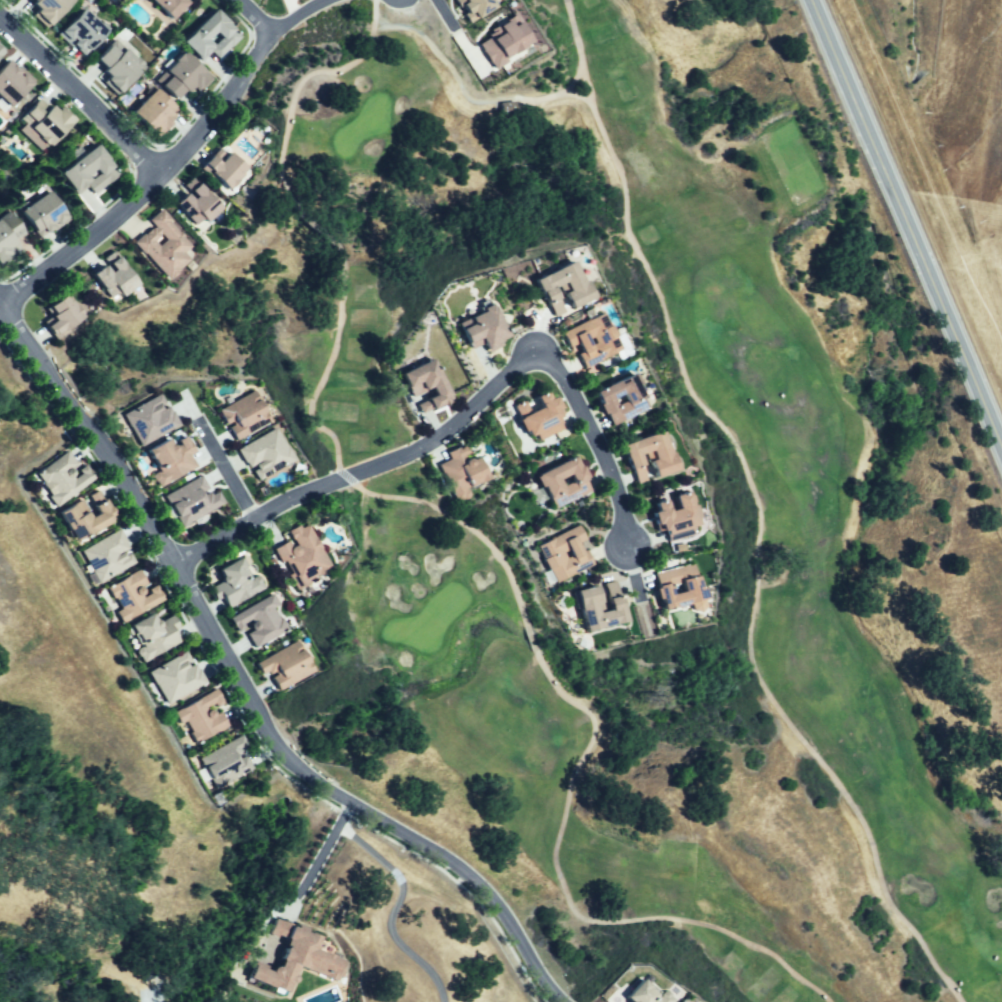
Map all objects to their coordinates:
park: (284, 7)
building: (46, 9)
building: (162, 9)
road: (377, 11)
building: (482, 12)
road: (443, 13)
road: (254, 16)
road: (305, 16)
building: (77, 32)
building: (226, 35)
road: (581, 42)
building: (509, 48)
building: (0, 50)
building: (118, 72)
building: (181, 78)
building: (8, 83)
road: (82, 90)
building: (152, 114)
building: (49, 123)
building: (71, 170)
building: (224, 172)
road: (150, 183)
building: (195, 206)
building: (44, 214)
road: (908, 221)
building: (7, 239)
building: (162, 248)
building: (113, 282)
building: (559, 290)
building: (56, 316)
building: (487, 323)
building: (587, 341)
building: (2, 361)
building: (427, 382)
building: (633, 403)
building: (242, 411)
building: (535, 416)
building: (146, 418)
road: (459, 423)
road: (724, 442)
building: (269, 453)
building: (171, 461)
building: (657, 462)
road: (225, 474)
building: (455, 474)
building: (59, 478)
building: (574, 485)
building: (194, 503)
park: (844, 506)
building: (673, 517)
building: (81, 519)
road: (482, 542)
building: (562, 556)
building: (104, 559)
building: (300, 560)
building: (231, 586)
building: (675, 587)
building: (131, 597)
building: (584, 608)
building: (257, 620)
building: (154, 637)
building: (283, 666)
building: (177, 679)
road: (246, 693)
building: (201, 721)
building: (224, 765)
road: (323, 856)
building: (292, 961)
building: (647, 990)

